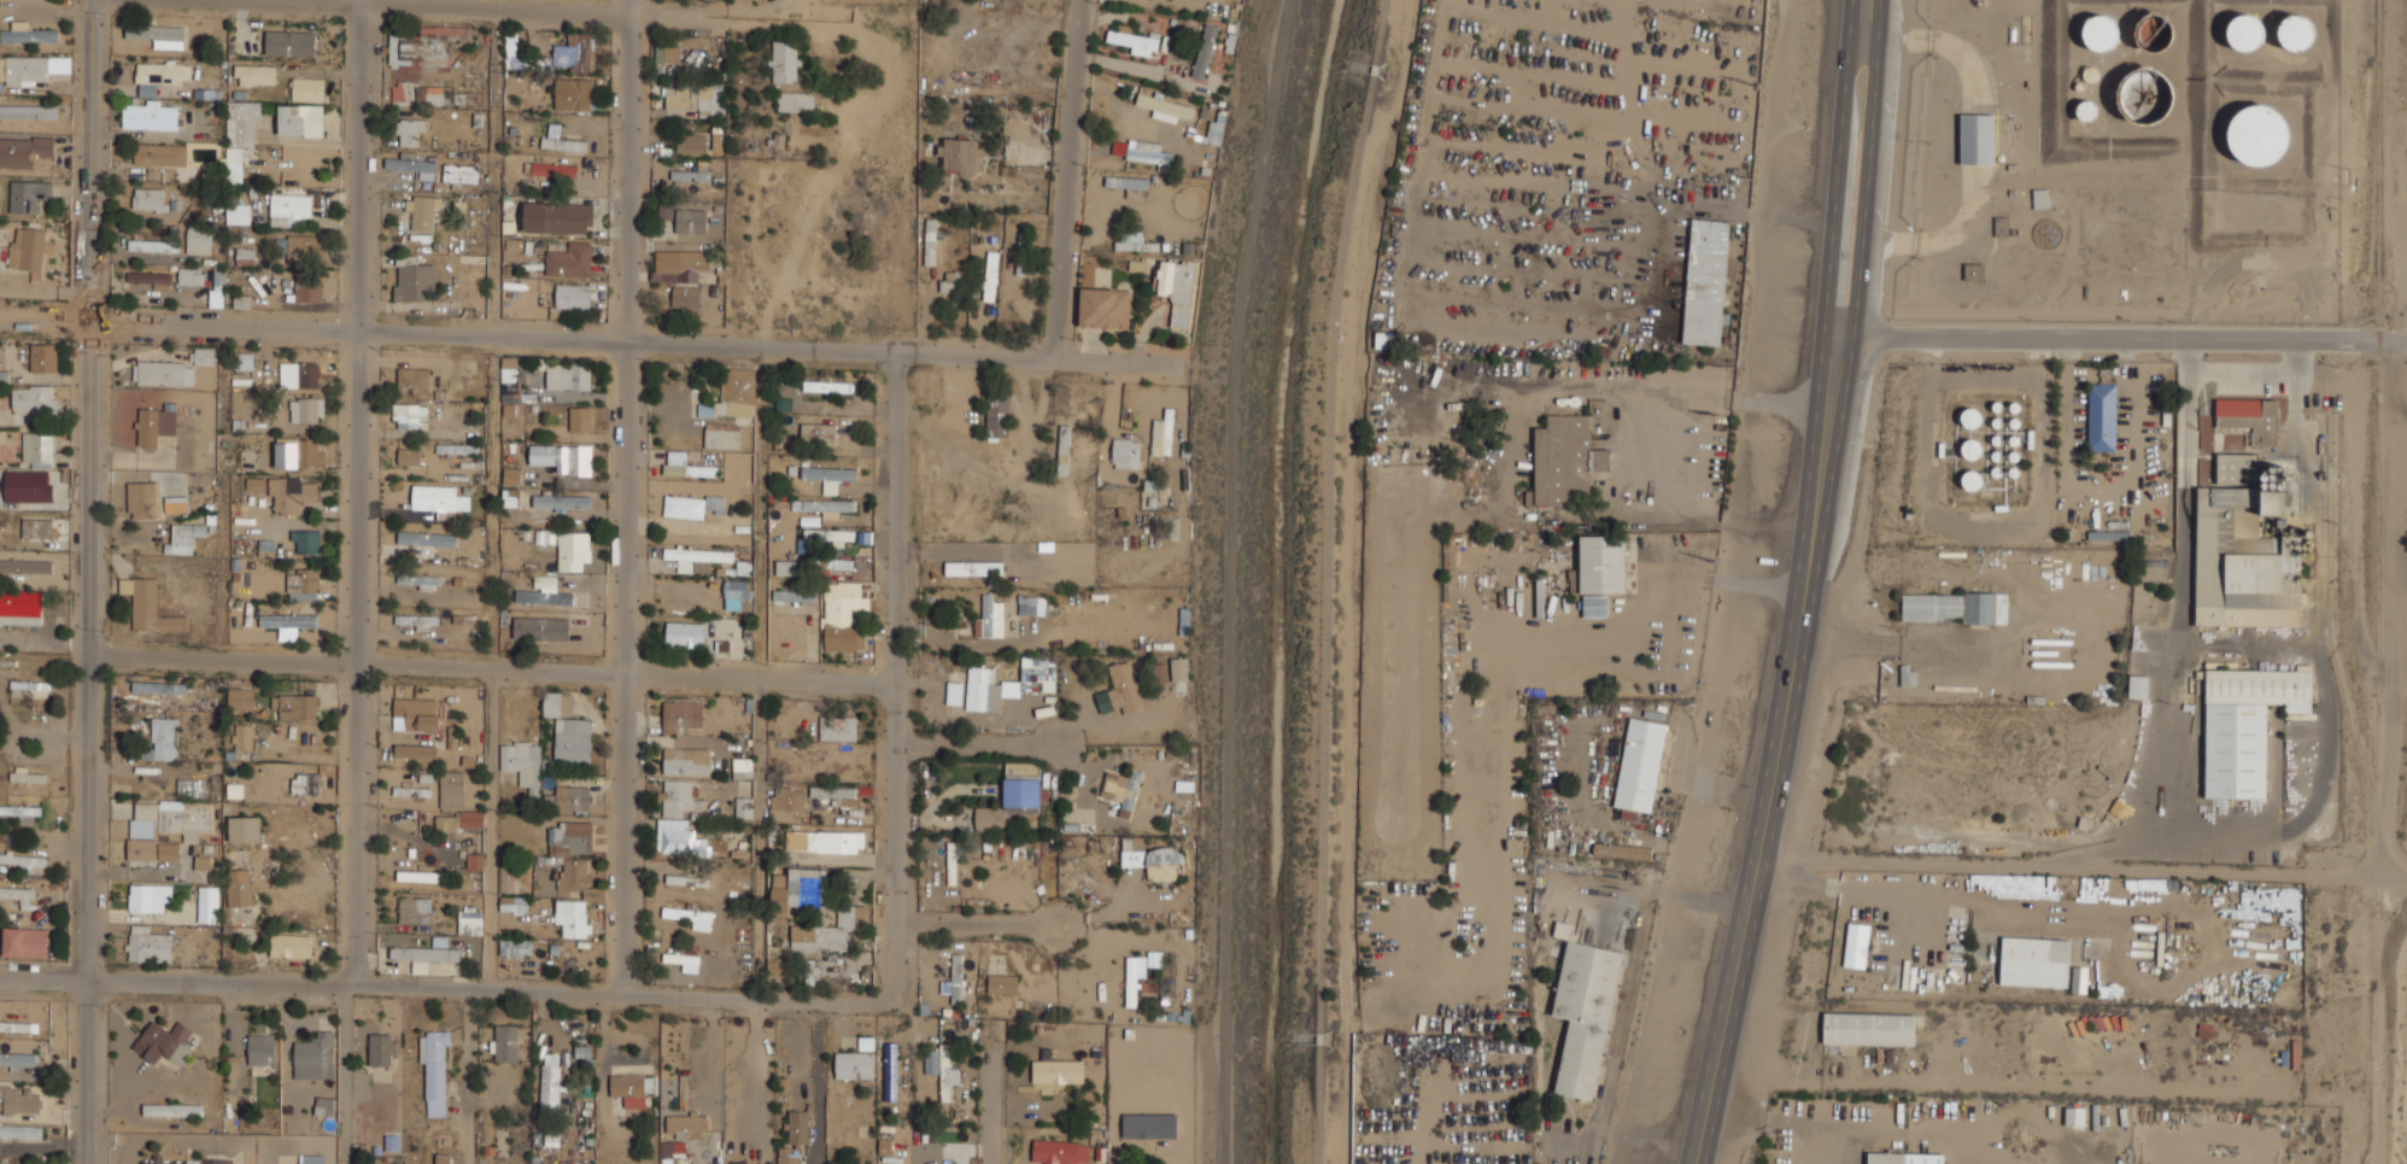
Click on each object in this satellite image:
road: (519, 6)
road: (1858, 30)
building: (2247, 31)
storage tank: (2247, 31)
building: (2295, 31)
storage tank: (2295, 31)
building: (2101, 33)
building: (157, 34)
building: (30, 35)
building: (289, 42)
building: (1136, 42)
building: (427, 46)
building: (513, 49)
building: (1203, 51)
building: (573, 53)
building: (667, 54)
building: (785, 62)
building: (28, 70)
building: (159, 75)
building: (253, 75)
building: (397, 92)
building: (573, 93)
building: (2132, 94)
building: (449, 96)
building: (697, 99)
building: (796, 101)
building: (1165, 105)
building: (303, 107)
building: (25, 115)
building: (150, 115)
building: (410, 131)
building: (1214, 131)
building: (239, 134)
building: (2257, 134)
storage tank: (2257, 134)
building: (561, 139)
building: (1978, 139)
building: (691, 144)
building: (716, 145)
building: (24, 151)
building: (1149, 153)
building: (159, 154)
building: (410, 162)
railway: (2370, 164)
road: (1837, 165)
road: (1857, 165)
building: (554, 169)
building: (459, 172)
road: (1071, 179)
building: (1126, 182)
building: (29, 195)
building: (147, 198)
building: (287, 209)
building: (666, 210)
building: (421, 211)
building: (238, 212)
building: (557, 217)
building: (691, 221)
building: (2002, 226)
building: (198, 239)
building: (930, 241)
building: (1134, 242)
building: (153, 244)
building: (305, 247)
building: (29, 251)
building: (244, 256)
building: (569, 259)
building: (1137, 264)
building: (680, 265)
building: (1974, 271)
building: (191, 275)
building: (990, 276)
building: (147, 277)
building: (219, 279)
building: (411, 279)
building: (1705, 281)
building: (947, 285)
building: (308, 288)
building: (1177, 288)
road: (494, 289)
building: (513, 292)
building: (573, 294)
building: (686, 297)
building: (1105, 308)
road: (2119, 337)
road: (573, 339)
road: (2189, 356)
building: (45, 357)
building: (244, 361)
building: (172, 368)
building: (299, 374)
building: (568, 375)
road: (2261, 375)
building: (414, 381)
building: (827, 386)
building: (733, 393)
building: (34, 400)
building: (306, 409)
building: (997, 414)
building: (409, 415)
building: (2102, 417)
building: (2250, 417)
building: (579, 419)
building: (153, 425)
building: (818, 432)
building: (1162, 433)
building: (716, 437)
building: (39, 449)
building: (1062, 449)
building: (298, 452)
building: (457, 452)
building: (1125, 452)
building: (409, 455)
building: (562, 457)
building: (1564, 460)
building: (685, 464)
building: (2237, 468)
building: (510, 469)
building: (1471, 472)
building: (827, 473)
building: (2273, 478)
building: (1972, 479)
building: (28, 486)
road: (363, 492)
building: (289, 495)
road: (627, 496)
building: (510, 497)
building: (438, 498)
building: (144, 499)
building: (561, 501)
building: (2273, 503)
building: (689, 504)
building: (822, 504)
building: (36, 528)
building: (828, 534)
building: (2114, 536)
building: (182, 537)
building: (426, 538)
building: (308, 542)
building: (573, 551)
building: (698, 555)
building: (1603, 562)
building: (2243, 563)
building: (826, 565)
building: (786, 566)
building: (25, 567)
building: (974, 568)
road: (1328, 579)
building: (418, 580)
road: (84, 581)
railway: (2379, 581)
building: (301, 584)
building: (737, 587)
building: (793, 595)
building: (544, 597)
building: (1035, 604)
building: (147, 606)
building: (1955, 606)
building: (578, 607)
building: (21, 608)
building: (519, 608)
building: (841, 615)
building: (990, 615)
building: (287, 620)
building: (416, 620)
building: (540, 628)
building: (684, 633)
road: (2172, 638)
railway: (2336, 648)
road: (447, 666)
building: (1178, 667)
road: (763, 673)
building: (1905, 674)
road: (896, 677)
building: (2138, 679)
building: (1007, 683)
building: (158, 688)
building: (954, 689)
building: (1120, 689)
road: (2325, 689)
building: (240, 698)
building: (293, 706)
building: (417, 713)
building: (680, 715)
building: (2245, 725)
building: (837, 727)
building: (568, 730)
building: (242, 736)
building: (164, 737)
road: (992, 748)
road: (1779, 748)
building: (416, 751)
building: (686, 760)
building: (844, 761)
building: (521, 762)
railway: (2386, 764)
building: (1638, 766)
building: (743, 767)
building: (27, 774)
building: (305, 783)
building: (191, 786)
building: (450, 788)
building: (1120, 788)
building: (832, 792)
building: (570, 799)
building: (1011, 800)
building: (785, 802)
building: (744, 807)
building: (22, 813)
building: (176, 815)
building: (678, 817)
building: (470, 818)
building: (244, 829)
road: (492, 829)
building: (824, 841)
building: (152, 849)
building: (1621, 850)
building: (572, 853)
building: (1132, 856)
building: (25, 861)
building: (474, 861)
building: (203, 862)
building: (951, 862)
building: (1164, 862)
road: (2084, 868)
building: (418, 876)
building: (685, 879)
building: (545, 881)
building: (299, 887)
building: (239, 888)
building: (793, 888)
building: (19, 895)
building: (148, 896)
building: (207, 903)
building: (513, 903)
building: (414, 908)
building: (573, 916)
building: (691, 917)
building: (470, 920)
road: (994, 924)
building: (828, 930)
building: (298, 938)
building: (25, 942)
building: (146, 944)
building: (1856, 944)
building: (515, 947)
building: (424, 953)
building: (680, 958)
building: (1154, 959)
building: (2034, 961)
building: (1135, 975)
building: (954, 978)
building: (2079, 979)
building: (1002, 982)
road: (444, 987)
road: (1624, 1011)
building: (1583, 1014)
building: (1869, 1029)
building: (163, 1042)
building: (503, 1042)
building: (382, 1049)
building: (260, 1051)
building: (582, 1051)
building: (314, 1052)
building: (17, 1059)
building: (854, 1065)
building: (941, 1069)
building: (1056, 1069)
building: (435, 1070)
building: (890, 1071)
road: (344, 1074)
road: (816, 1083)
building: (551, 1087)
building: (629, 1088)
road: (997, 1092)
building: (1, 1098)
building: (22, 1101)
building: (324, 1106)
building: (171, 1109)
building: (2074, 1116)
road: (1770, 1118)
building: (686, 1122)
building: (797, 1127)
building: (21, 1130)
building: (1148, 1135)
building: (884, 1146)
building: (1060, 1151)
building: (787, 1154)
building: (925, 1156)
building: (1886, 1158)
building: (309, 1159)
building: (182, 1160)

